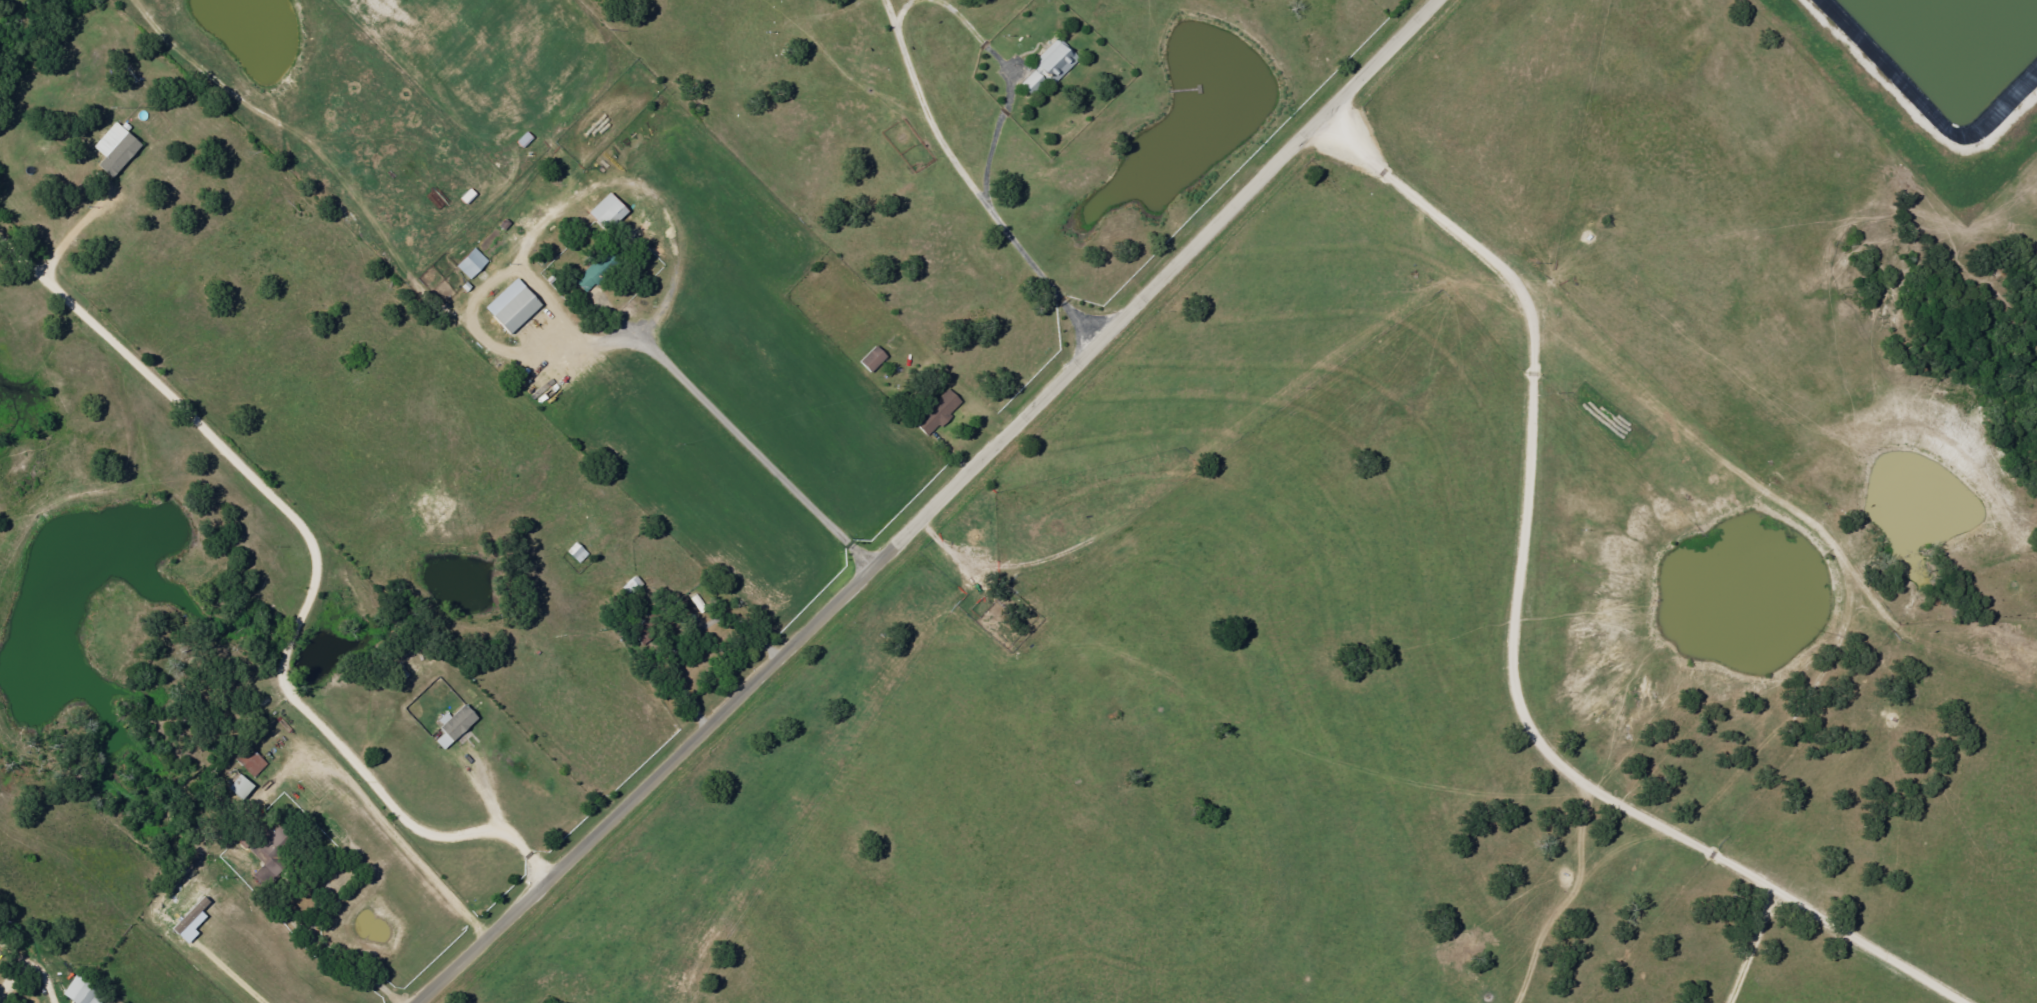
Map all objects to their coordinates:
building: (1028, 85)
building: (117, 153)
road: (985, 193)
building: (604, 213)
building: (469, 264)
building: (509, 307)
building: (935, 414)
road: (1550, 490)
road: (974, 524)
road: (687, 624)
building: (458, 726)
road: (1081, 742)
building: (252, 762)
building: (242, 788)
road: (1762, 903)
road: (22, 961)
building: (86, 992)

